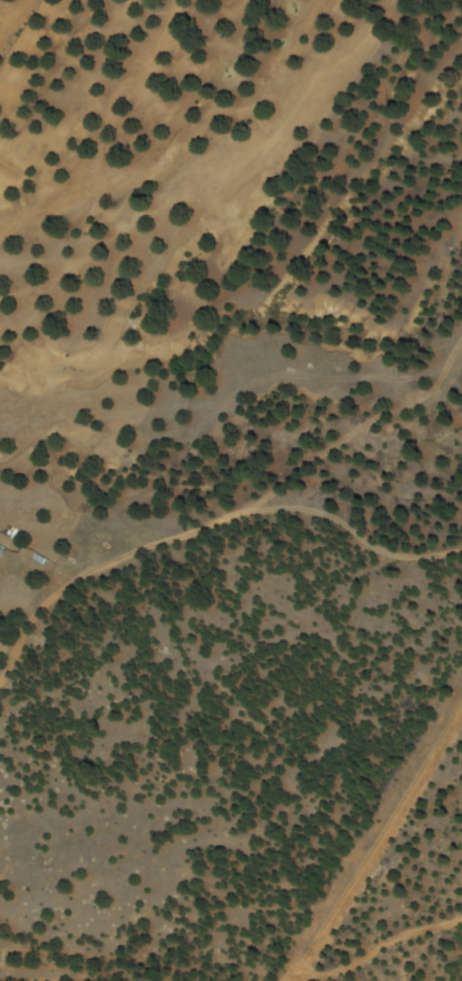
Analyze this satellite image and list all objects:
building: (1, 551)

